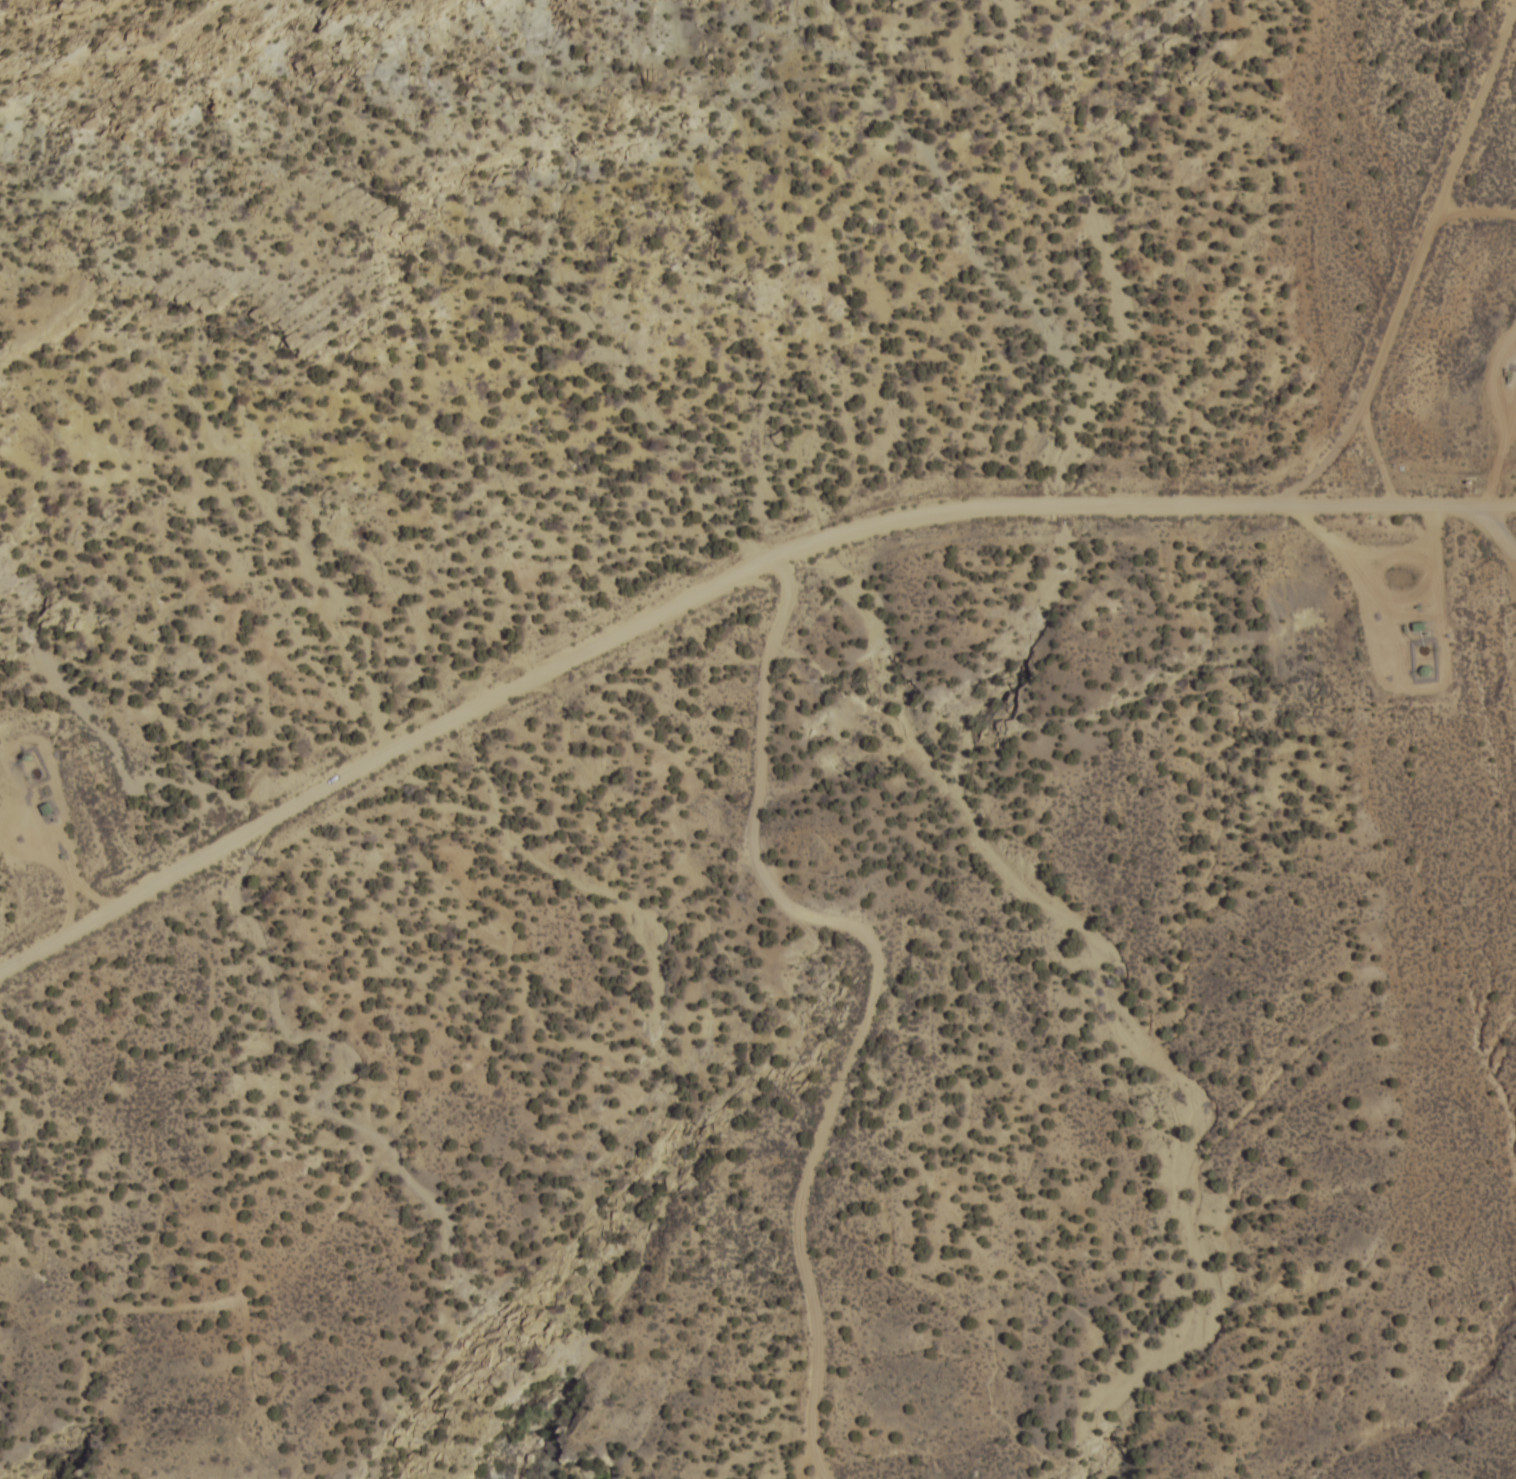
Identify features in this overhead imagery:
road: (1480, 210)
road: (1418, 275)
road: (1501, 379)
road: (1380, 452)
road: (1500, 501)
road: (1500, 522)
road: (702, 595)
road: (61, 831)
road: (880, 986)

